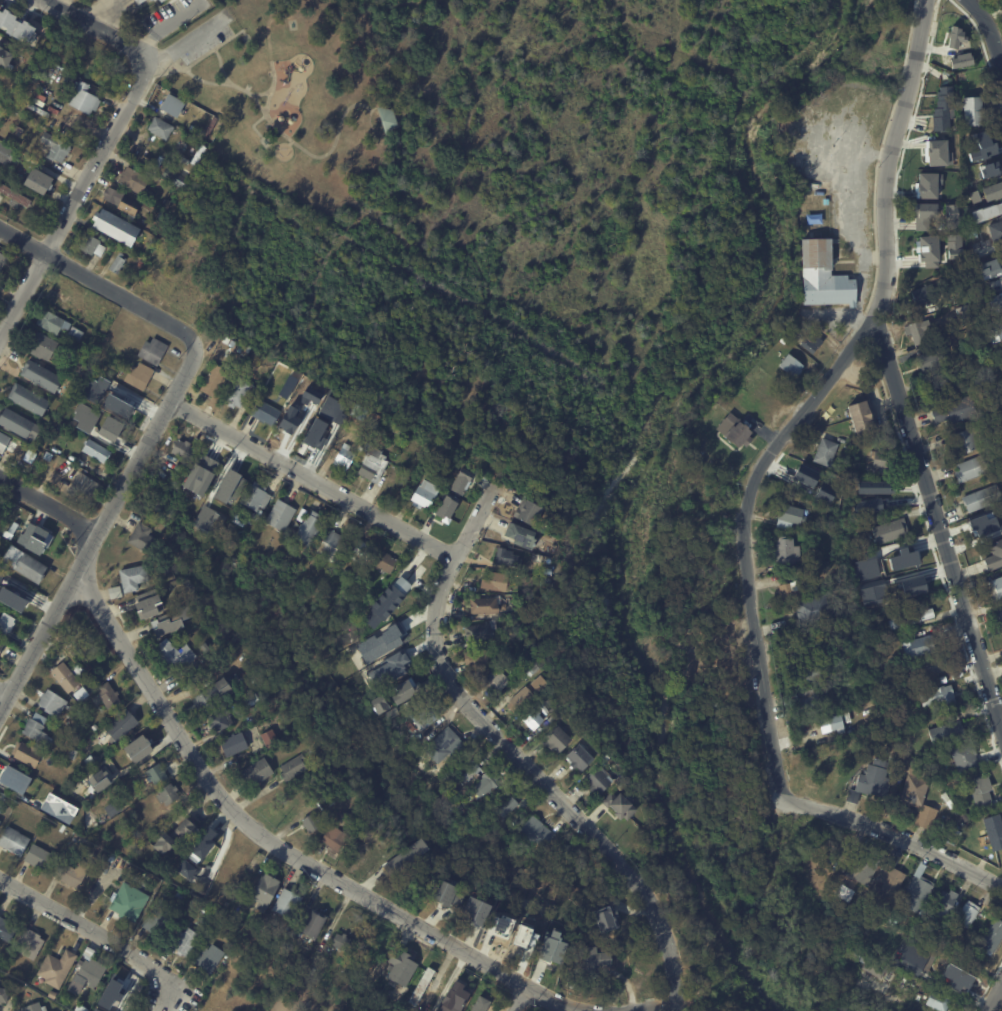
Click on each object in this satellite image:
building: (162, 1)
road: (54, 2)
building: (141, 6)
road: (96, 11)
building: (0, 13)
road: (300, 15)
road: (97, 27)
road: (990, 31)
building: (955, 36)
parking lot: (197, 44)
road: (182, 49)
road: (214, 49)
building: (4, 58)
building: (960, 60)
building: (82, 98)
building: (170, 104)
building: (942, 106)
building: (195, 112)
building: (973, 113)
building: (76, 118)
building: (384, 120)
road: (272, 125)
building: (159, 127)
building: (17, 131)
park: (521, 141)
building: (54, 148)
road: (465, 149)
building: (986, 152)
building: (5, 153)
road: (889, 158)
building: (934, 158)
building: (142, 160)
building: (169, 175)
building: (37, 180)
building: (133, 180)
building: (926, 185)
building: (992, 191)
building: (14, 196)
building: (974, 196)
building: (120, 201)
road: (76, 203)
building: (165, 203)
building: (986, 211)
building: (922, 214)
building: (952, 214)
building: (159, 216)
building: (812, 220)
road: (857, 224)
building: (110, 225)
building: (996, 230)
building: (88, 244)
building: (953, 246)
road: (874, 248)
building: (926, 248)
building: (176, 252)
building: (1001, 257)
building: (2, 259)
building: (114, 262)
building: (988, 268)
building: (821, 277)
road: (98, 281)
building: (923, 294)
building: (58, 298)
building: (995, 301)
building: (49, 321)
building: (1001, 321)
building: (916, 330)
building: (73, 333)
building: (994, 334)
building: (809, 343)
building: (235, 344)
building: (40, 345)
building: (151, 350)
building: (930, 359)
building: (78, 366)
building: (790, 366)
building: (39, 376)
building: (138, 376)
building: (213, 382)
building: (940, 389)
building: (239, 392)
building: (82, 393)
building: (302, 393)
building: (27, 400)
building: (125, 403)
building: (101, 405)
building: (954, 410)
building: (357, 412)
building: (264, 413)
building: (859, 415)
building: (84, 416)
building: (14, 423)
building: (51, 423)
building: (287, 426)
building: (46, 431)
building: (733, 431)
building: (109, 434)
building: (1001, 435)
building: (316, 438)
building: (966, 439)
building: (3, 442)
building: (51, 446)
building: (358, 447)
building: (94, 450)
building: (181, 450)
building: (824, 452)
building: (342, 458)
building: (882, 461)
building: (844, 462)
building: (204, 463)
building: (371, 464)
building: (855, 464)
building: (176, 468)
building: (970, 468)
building: (805, 475)
building: (32, 477)
road: (315, 480)
building: (233, 481)
building: (461, 481)
building: (81, 486)
building: (874, 486)
building: (823, 494)
building: (420, 497)
building: (981, 498)
building: (253, 499)
building: (869, 504)
road: (48, 505)
building: (445, 508)
building: (526, 513)
building: (278, 515)
building: (787, 516)
building: (199, 517)
building: (828, 517)
building: (237, 519)
road: (938, 524)
road: (100, 525)
building: (987, 527)
building: (306, 528)
building: (888, 530)
building: (520, 536)
building: (139, 537)
road: (744, 538)
building: (38, 540)
building: (49, 545)
building: (328, 545)
building: (360, 549)
building: (784, 549)
building: (906, 551)
building: (503, 556)
building: (994, 556)
building: (23, 564)
building: (385, 564)
building: (130, 577)
building: (492, 581)
building: (404, 582)
building: (911, 585)
building: (995, 588)
building: (788, 590)
building: (113, 592)
building: (871, 593)
building: (17, 595)
building: (559, 597)
building: (386, 601)
building: (148, 603)
building: (483, 605)
building: (836, 609)
building: (501, 610)
building: (811, 610)
building: (999, 615)
building: (912, 620)
building: (170, 621)
building: (7, 628)
building: (478, 631)
building: (497, 633)
building: (800, 635)
building: (391, 639)
building: (376, 643)
building: (1, 645)
building: (920, 646)
building: (800, 647)
building: (846, 654)
building: (171, 655)
building: (474, 659)
building: (398, 661)
building: (927, 667)
building: (80, 671)
building: (801, 672)
building: (67, 678)
building: (495, 681)
building: (535, 687)
road: (4, 690)
building: (405, 690)
building: (212, 693)
building: (83, 694)
building: (110, 696)
building: (520, 698)
building: (938, 698)
building: (250, 700)
building: (809, 702)
building: (54, 703)
building: (382, 708)
building: (425, 715)
building: (531, 719)
building: (219, 721)
building: (835, 723)
building: (122, 726)
building: (95, 727)
building: (946, 729)
building: (39, 730)
building: (554, 738)
building: (268, 739)
building: (228, 745)
building: (135, 746)
building: (442, 747)
building: (30, 754)
building: (73, 754)
road: (515, 754)
building: (578, 757)
building: (967, 758)
building: (892, 759)
building: (899, 763)
building: (914, 764)
building: (291, 768)
building: (105, 769)
building: (471, 771)
building: (256, 772)
building: (13, 774)
building: (157, 774)
building: (98, 780)
building: (595, 781)
building: (870, 781)
building: (485, 783)
building: (5, 787)
building: (913, 789)
building: (980, 791)
building: (170, 795)
building: (445, 796)
building: (2, 797)
building: (618, 805)
building: (506, 806)
building: (58, 808)
building: (116, 809)
building: (908, 814)
building: (344, 819)
building: (88, 820)
building: (1, 822)
building: (308, 824)
building: (65, 829)
building: (993, 832)
building: (534, 833)
road: (895, 835)
building: (78, 838)
building: (177, 839)
building: (333, 839)
building: (16, 841)
building: (208, 845)
building: (403, 857)
building: (114, 858)
building: (44, 859)
building: (862, 867)
building: (192, 870)
road: (322, 870)
building: (75, 874)
building: (888, 879)
building: (263, 890)
building: (917, 890)
building: (843, 893)
building: (447, 894)
building: (181, 897)
building: (132, 898)
building: (284, 902)
building: (942, 905)
building: (475, 910)
building: (966, 914)
building: (160, 918)
building: (605, 919)
building: (205, 922)
building: (312, 924)
building: (500, 925)
building: (7, 930)
road: (92, 930)
building: (229, 936)
building: (992, 936)
building: (524, 939)
building: (339, 941)
building: (188, 942)
building: (32, 944)
building: (551, 946)
building: (210, 958)
building: (911, 958)
building: (593, 959)
building: (302, 960)
building: (865, 961)
building: (399, 966)
building: (59, 969)
building: (88, 973)
building: (955, 974)
building: (905, 978)
building: (421, 985)
building: (451, 992)
building: (119, 993)
building: (55, 995)
building: (6, 996)
road: (994, 997)
road: (518, 998)
building: (937, 1001)
building: (480, 1004)
building: (36, 1008)
building: (83, 1008)
building: (52, 1010)
building: (450, 1010)

